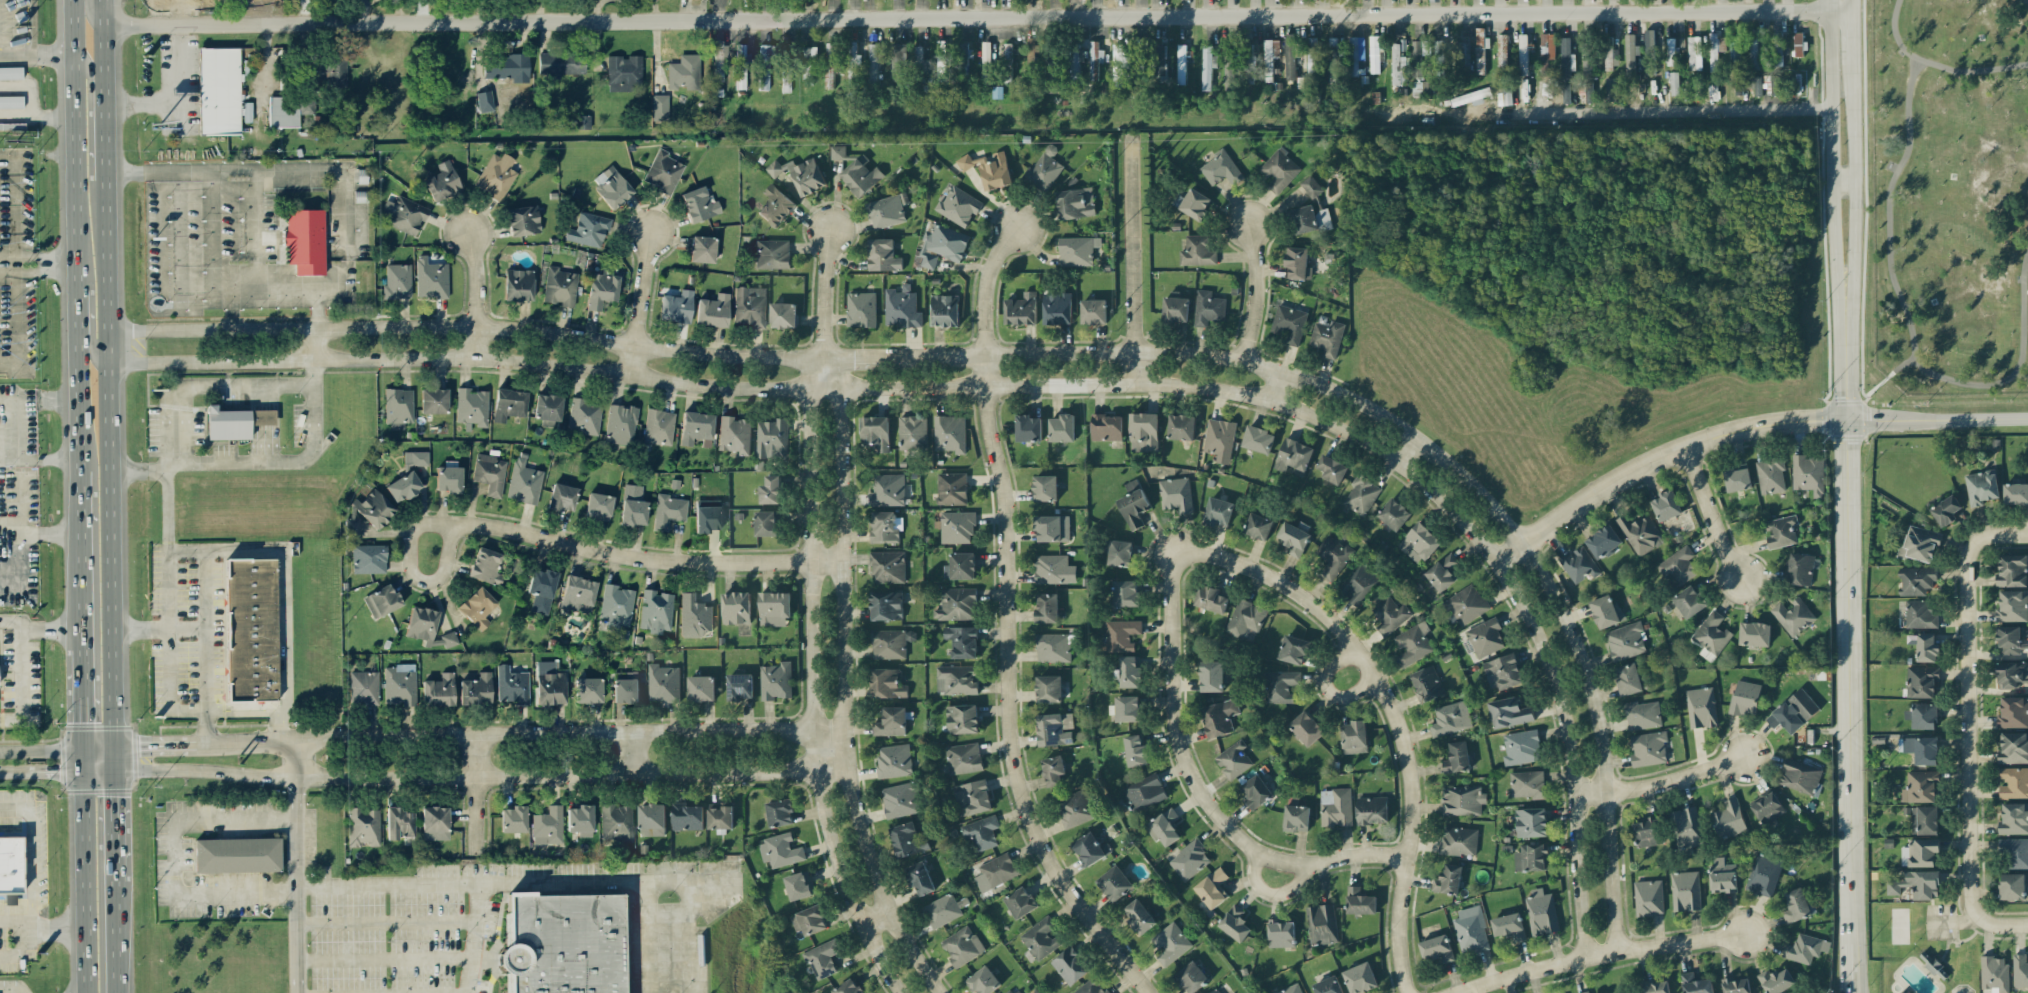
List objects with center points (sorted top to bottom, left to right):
building: (212, 1)
building: (168, 3)
road: (155, 11)
road: (183, 11)
road: (89, 16)
road: (977, 16)
building: (1798, 44)
building: (1547, 49)
building: (1734, 49)
building: (1754, 49)
building: (1481, 50)
building: (1716, 50)
building: (1672, 51)
building: (1462, 53)
building: (1695, 53)
building: (1778, 53)
road: (37, 54)
building: (1374, 54)
building: (1502, 54)
building: (1523, 54)
building: (1650, 54)
building: (1420, 55)
building: (1631, 55)
building: (1290, 56)
building: (1312, 56)
building: (1271, 57)
building: (1441, 58)
building: (961, 59)
building: (1348, 59)
building: (1567, 59)
building: (1611, 59)
building: (853, 60)
building: (876, 60)
building: (942, 60)
building: (1095, 60)
building: (719, 61)
building: (1140, 61)
building: (808, 62)
building: (833, 62)
building: (986, 62)
building: (1007, 62)
building: (1399, 62)
building: (560, 63)
building: (900, 64)
building: (1075, 64)
building: (1158, 64)
building: (1181, 64)
building: (921, 65)
building: (507, 66)
building: (741, 66)
building: (765, 66)
building: (329, 67)
building: (1207, 67)
building: (787, 68)
building: (1119, 69)
building: (684, 71)
building: (623, 72)
building: (1053, 72)
building: (1231, 72)
building: (11, 73)
building: (1675, 83)
building: (1738, 84)
building: (1772, 84)
building: (1420, 85)
building: (1758, 85)
building: (1610, 89)
building: (219, 90)
building: (1507, 92)
building: (1566, 92)
road: (173, 97)
building: (484, 100)
building: (11, 102)
building: (660, 106)
road: (92, 109)
building: (289, 110)
road: (1668, 111)
building: (581, 121)
road: (37, 124)
building: (838, 151)
road: (331, 167)
building: (1044, 168)
building: (990, 169)
building: (1221, 169)
building: (1280, 170)
building: (663, 171)
road: (141, 172)
building: (800, 174)
building: (861, 175)
building: (496, 176)
building: (443, 181)
road: (1843, 183)
building: (612, 186)
building: (1311, 186)
building: (699, 203)
building: (1076, 203)
building: (1196, 203)
building: (775, 205)
building: (958, 206)
building: (887, 210)
road: (1832, 211)
road: (1853, 211)
building: (403, 214)
building: (1309, 219)
building: (523, 220)
building: (589, 228)
road: (255, 229)
road: (211, 230)
road: (76, 234)
building: (306, 241)
building: (942, 244)
building: (702, 248)
building: (1077, 250)
building: (1197, 251)
building: (772, 253)
building: (883, 255)
road: (38, 258)
road: (1138, 261)
building: (1298, 263)
road: (646, 271)
building: (431, 278)
building: (397, 281)
building: (518, 284)
building: (560, 286)
building: (601, 289)
road: (991, 290)
road: (189, 291)
road: (830, 292)
road: (476, 294)
road: (1261, 295)
building: (677, 306)
building: (750, 306)
building: (902, 307)
building: (1057, 308)
building: (1175, 308)
building: (1208, 308)
building: (861, 309)
building: (1021, 309)
building: (713, 310)
building: (945, 310)
building: (1093, 311)
building: (783, 315)
building: (1289, 323)
road: (319, 324)
road: (88, 327)
building: (1327, 337)
road: (637, 341)
road: (1057, 354)
road: (107, 374)
road: (1036, 385)
road: (216, 386)
building: (434, 400)
building: (509, 403)
building: (471, 406)
building: (398, 407)
building: (549, 408)
building: (584, 416)
road: (1937, 419)
building: (234, 421)
building: (621, 423)
building: (659, 426)
building: (1181, 426)
building: (697, 427)
building: (1062, 427)
building: (1106, 427)
building: (1028, 428)
building: (875, 431)
building: (1143, 431)
building: (912, 432)
building: (949, 433)
road: (995, 433)
building: (734, 434)
building: (772, 439)
building: (1219, 439)
building: (1258, 439)
building: (1293, 455)
building: (416, 457)
road: (39, 460)
road: (1660, 460)
road: (275, 462)
building: (1332, 468)
building: (490, 472)
building: (1808, 474)
building: (1771, 475)
building: (449, 477)
road: (167, 479)
building: (1738, 479)
building: (524, 480)
building: (403, 486)
building: (1045, 487)
building: (1981, 487)
building: (951, 488)
building: (632, 490)
building: (770, 490)
building: (887, 490)
building: (2015, 493)
building: (1176, 494)
building: (1361, 494)
building: (562, 496)
building: (1133, 504)
building: (598, 505)
building: (1666, 505)
building: (668, 510)
building: (1945, 510)
building: (633, 511)
building: (1218, 511)
building: (368, 512)
building: (1394, 513)
road: (1715, 513)
building: (707, 518)
building: (766, 523)
building: (1259, 526)
building: (886, 527)
building: (957, 527)
building: (1052, 528)
building: (1780, 531)
building: (1640, 533)
road: (40, 534)
building: (1294, 538)
building: (1604, 541)
building: (1419, 543)
building: (1920, 544)
building: (1120, 553)
building: (1333, 554)
building: (369, 558)
road: (645, 558)
road: (80, 559)
building: (1579, 564)
building: (486, 565)
building: (961, 566)
building: (888, 567)
building: (1678, 567)
building: (1054, 569)
building: (1800, 569)
building: (2012, 570)
building: (1443, 572)
road: (415, 573)
building: (1916, 580)
building: (1361, 584)
road: (1174, 586)
building: (541, 589)
building: (578, 593)
building: (1126, 593)
building: (382, 599)
building: (1211, 599)
building: (1689, 601)
building: (957, 604)
building: (1466, 604)
building: (616, 605)
building: (886, 605)
building: (478, 606)
building: (2012, 606)
road: (285, 607)
building: (736, 607)
building: (1047, 607)
building: (774, 608)
road: (1329, 609)
building: (656, 610)
building: (1606, 611)
building: (1920, 614)
building: (1390, 615)
building: (695, 616)
building: (1793, 616)
building: (1246, 617)
road: (13, 619)
road: (52, 626)
building: (427, 627)
building: (247, 629)
building: (743, 629)
building: (1755, 633)
building: (1121, 634)
building: (1711, 635)
building: (1485, 637)
building: (1626, 640)
building: (2008, 640)
building: (962, 641)
building: (891, 643)
building: (1413, 644)
building: (1053, 647)
building: (1925, 647)
building: (1293, 649)
building: (1502, 671)
building: (1130, 672)
building: (2011, 674)
building: (1212, 676)
building: (957, 679)
building: (1628, 679)
building: (775, 680)
road: (816, 681)
road: (1335, 681)
building: (1922, 681)
building: (550, 683)
building: (663, 683)
building: (888, 683)
building: (1427, 683)
road: (23, 684)
building: (399, 684)
building: (512, 684)
road: (845, 684)
building: (364, 686)
building: (626, 686)
building: (739, 686)
building: (1279, 686)
building: (701, 688)
building: (1049, 688)
building: (476, 689)
building: (588, 689)
building: (438, 690)
road: (82, 697)
building: (1745, 697)
road: (1967, 703)
road: (1850, 706)
building: (1701, 707)
building: (1127, 708)
building: (1794, 711)
building: (1510, 712)
building: (2013, 712)
building: (1642, 714)
building: (1923, 715)
building: (1219, 717)
building: (962, 718)
building: (1451, 718)
traffic signals: (83, 720)
building: (891, 721)
road: (289, 726)
building: (1307, 727)
building: (1055, 728)
road: (204, 729)
road: (525, 736)
building: (1354, 737)
road: (158, 747)
building: (1521, 747)
road: (41, 748)
road: (98, 748)
traffic signals: (140, 748)
building: (1648, 748)
building: (2013, 748)
building: (1136, 749)
building: (1922, 749)
road: (632, 754)
building: (1457, 757)
building: (963, 758)
road: (83, 759)
road: (113, 759)
road: (294, 759)
building: (1233, 759)
building: (894, 760)
road: (98, 770)
building: (1053, 770)
road: (50, 771)
traffic signals: (60, 771)
road: (1019, 771)
road: (8, 772)
building: (1800, 775)
road: (480, 776)
road: (1663, 782)
building: (2013, 782)
building: (1527, 784)
building: (1920, 786)
building: (1256, 791)
building: (1144, 792)
road: (474, 793)
traffic signals: (113, 795)
building: (972, 797)
building: (901, 799)
building: (1462, 800)
road: (15, 807)
building: (1336, 807)
building: (1075, 808)
building: (1768, 808)
building: (1372, 809)
building: (780, 812)
road: (1217, 816)
building: (687, 817)
building: (513, 818)
building: (720, 818)
building: (1296, 818)
building: (2014, 818)
building: (581, 819)
building: (652, 819)
building: (1728, 819)
building: (1924, 819)
building: (399, 822)
building: (435, 822)
building: (616, 822)
building: (1531, 822)
road: (113, 825)
building: (548, 825)
building: (363, 826)
building: (1164, 827)
building: (1685, 829)
building: (981, 832)
building: (1646, 832)
building: (908, 839)
building: (1459, 840)
building: (1091, 849)
building: (780, 850)
building: (1920, 852)
building: (2014, 852)
building: (237, 853)
road: (175, 857)
building: (1531, 857)
building: (1190, 860)
building: (10, 865)
road: (32, 866)
building: (996, 871)
road: (1410, 874)
building: (1764, 874)
building: (1722, 875)
building: (920, 878)
building: (1448, 879)
road: (84, 881)
road: (473, 881)
building: (1115, 883)
building: (1917, 884)
road: (299, 885)
building: (799, 885)
building: (2012, 886)
building: (1213, 887)
building: (1685, 890)
building: (1648, 897)
building: (1360, 901)
building: (1021, 902)
building: (1798, 905)
building: (942, 910)
building: (1541, 912)
road: (688, 916)
building: (1139, 916)
building: (809, 920)
road: (388, 921)
building: (1235, 923)
building: (1322, 923)
road: (2002, 924)
road: (53, 926)
building: (1507, 926)
building: (1471, 930)
building: (1280, 933)
road: (114, 936)
road: (649, 936)
road: (21, 937)
road: (474, 937)
building: (1040, 938)
road: (1694, 938)
building: (564, 943)
building: (1170, 943)
building: (962, 945)
building: (1805, 948)
building: (1437, 949)
road: (386, 958)
building: (822, 958)
road: (1543, 964)
building: (1933, 965)
building: (1070, 966)
building: (2020, 971)
building: (1995, 973)
building: (1191, 977)
building: (1360, 977)
building: (984, 980)
building: (1777, 980)
building: (1696, 983)
building: (1328, 985)
building: (1736, 985)
building: (848, 987)
building: (1091, 987)
building: (1656, 987)
building: (1290, 989)
building: (1011, 990)
building: (1214, 991)
building: (1584, 992)

